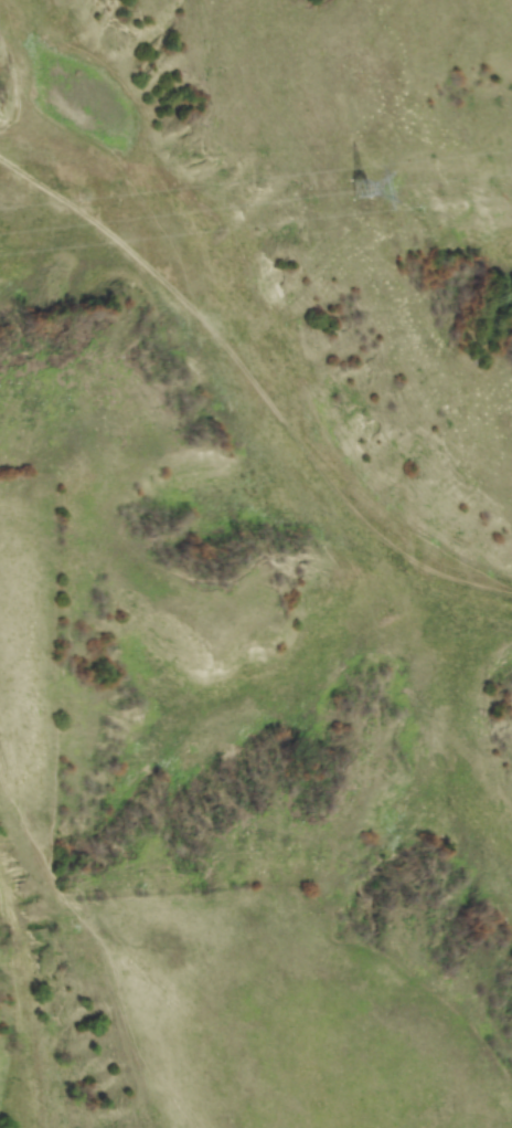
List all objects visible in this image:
power tower: (353, 191)

